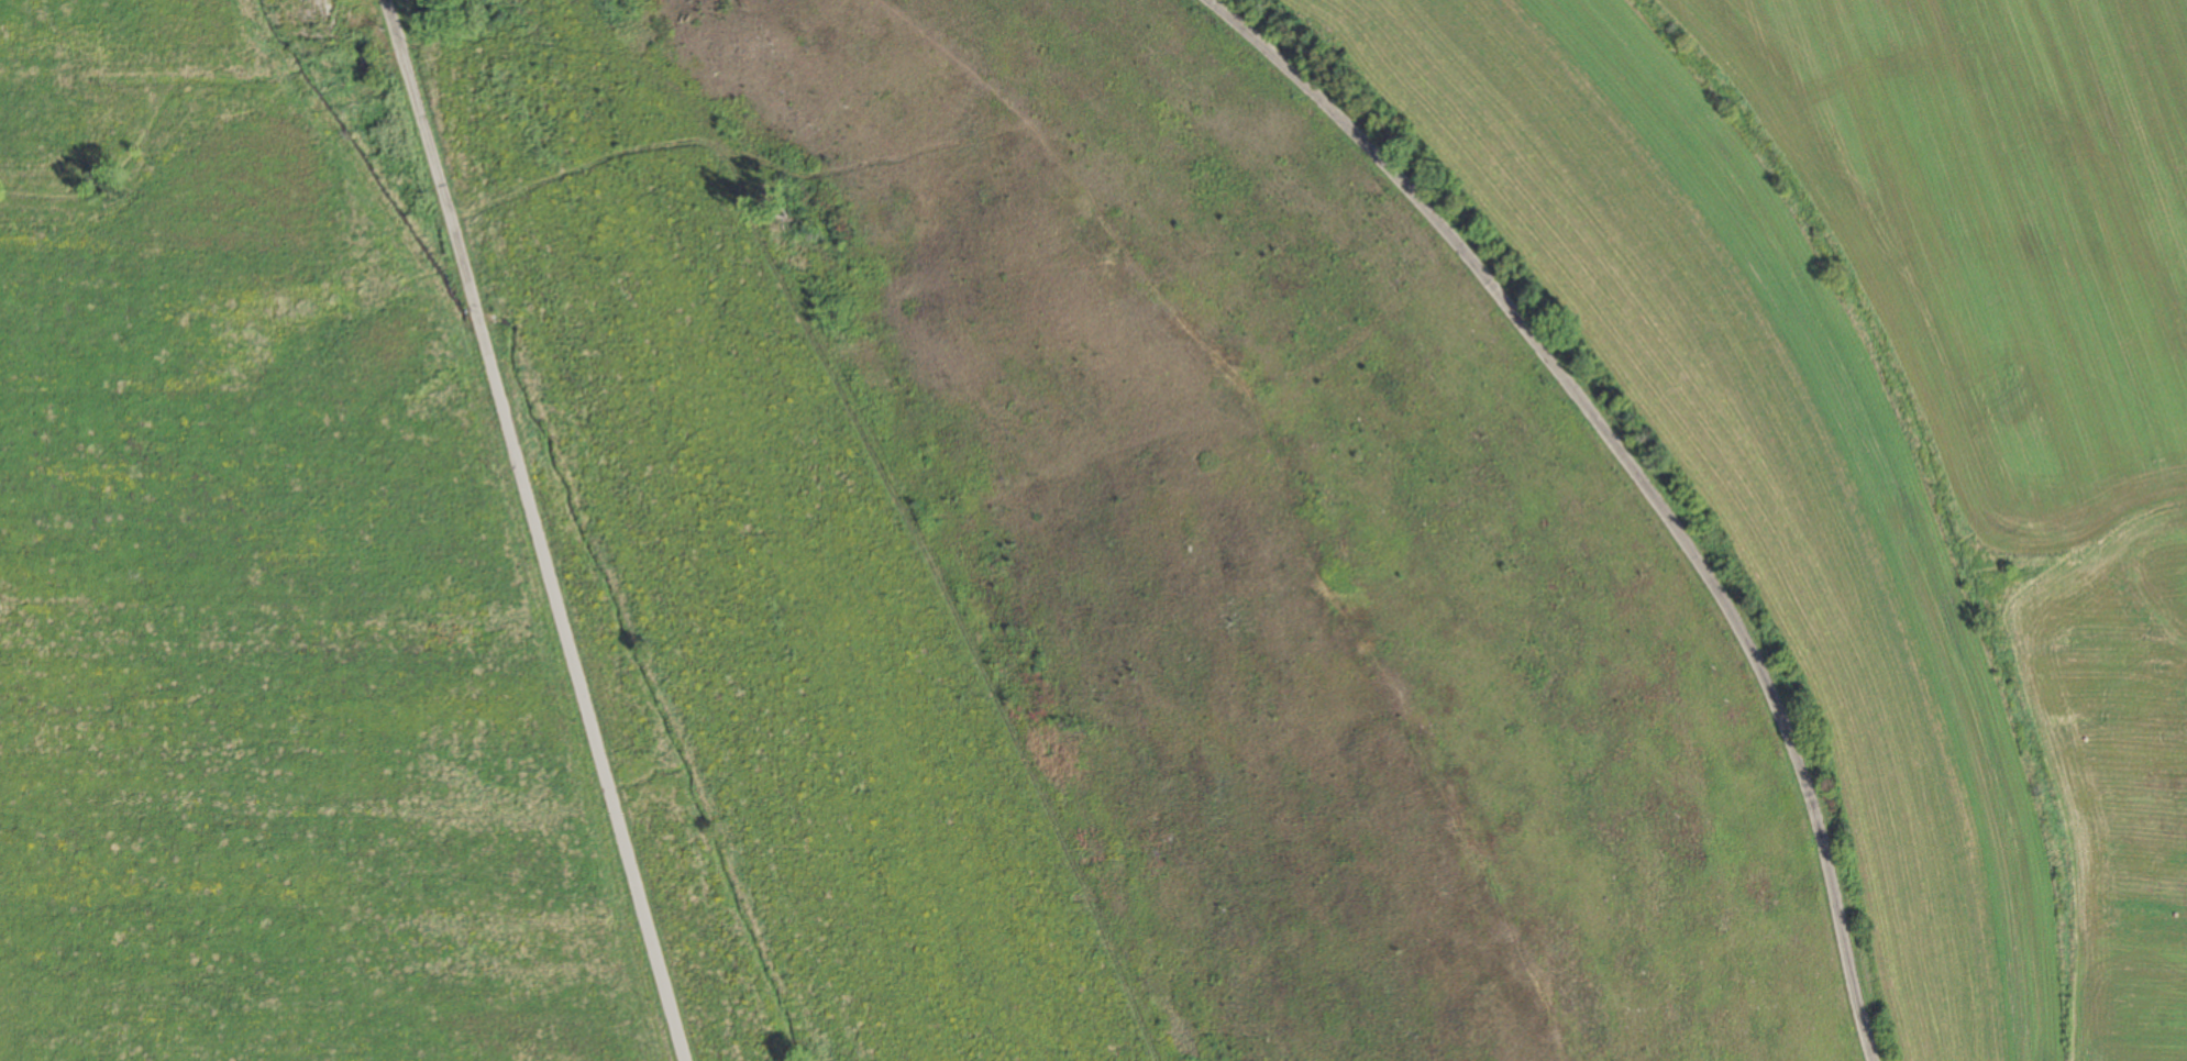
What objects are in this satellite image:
road: (1636, 474)
road: (535, 529)

